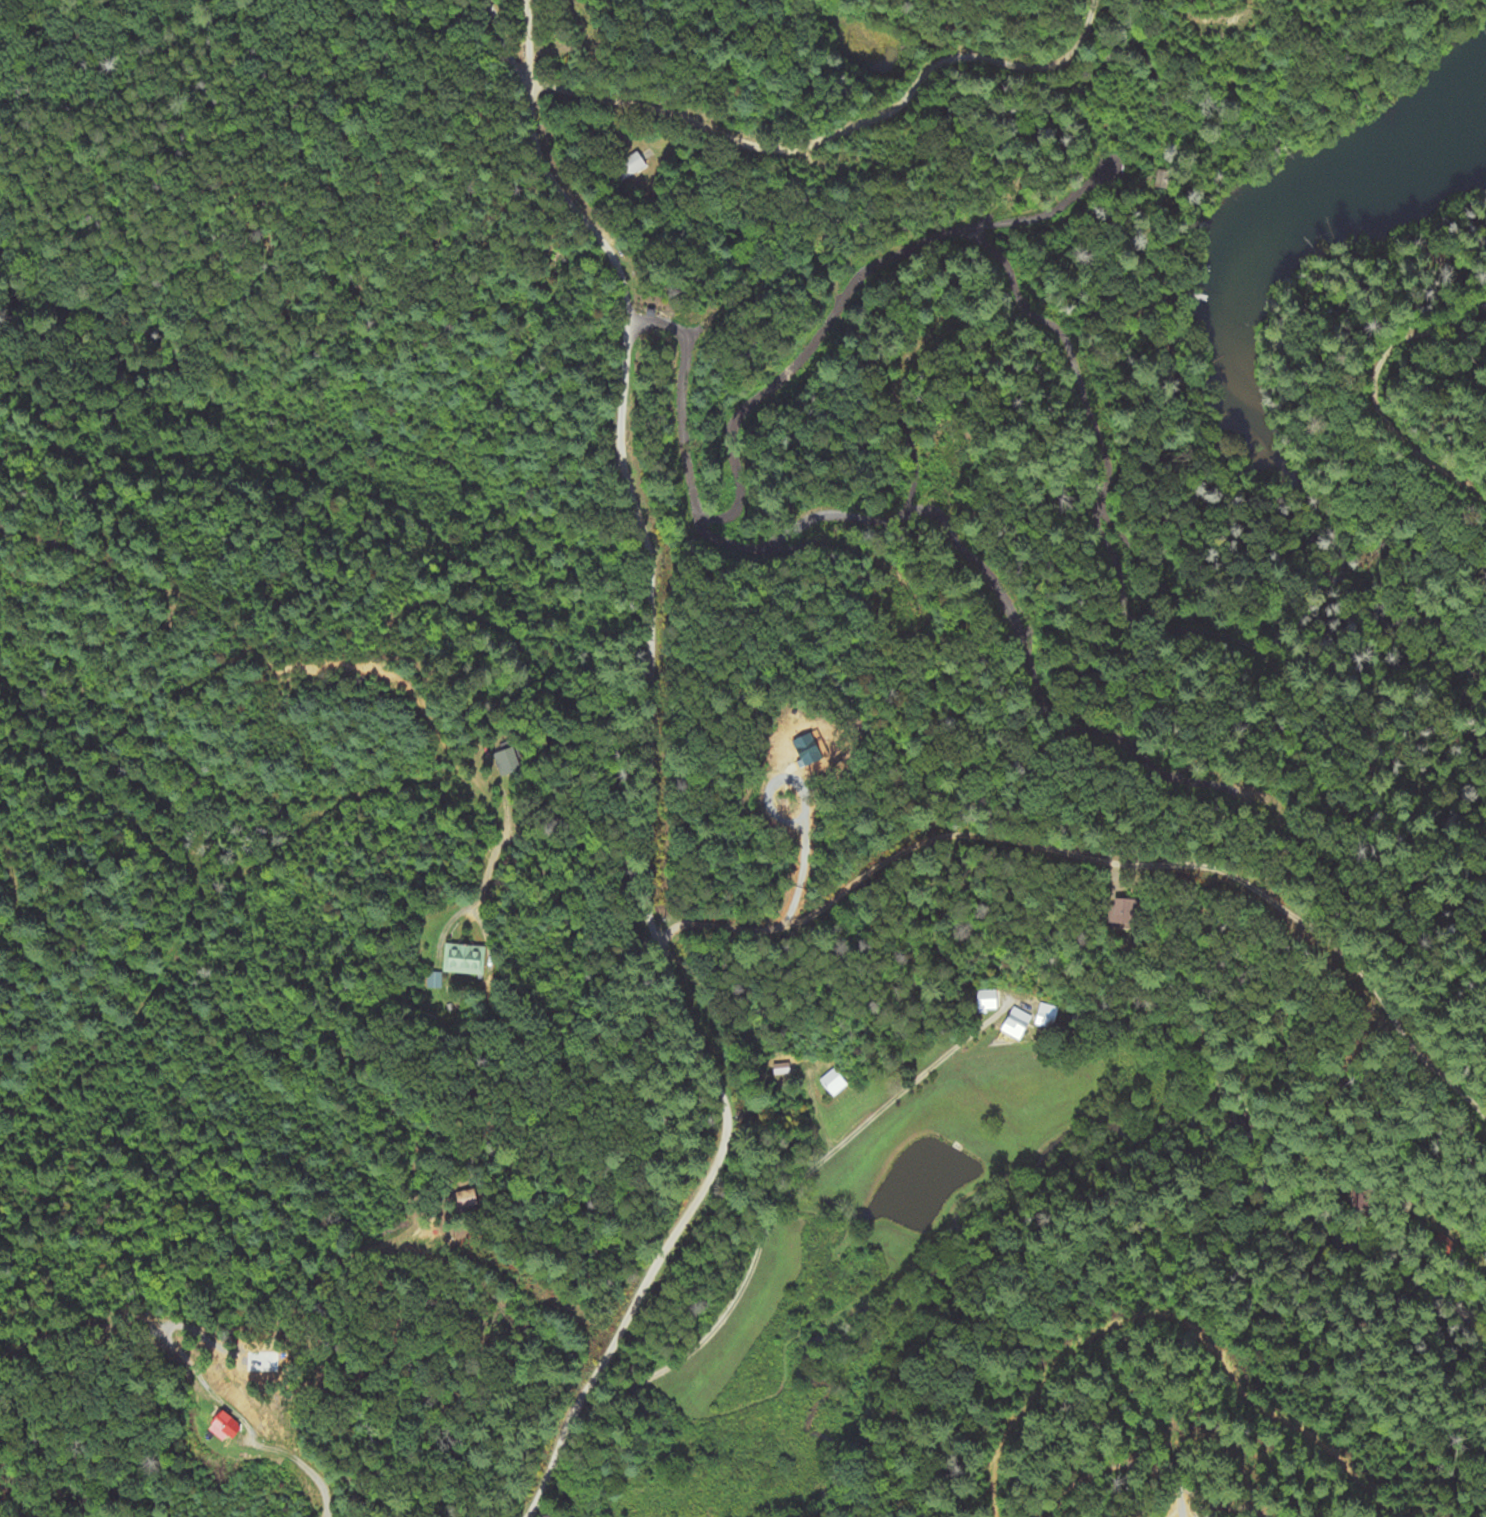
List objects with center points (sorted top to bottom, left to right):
road: (527, 44)
road: (793, 148)
building: (633, 165)
road: (572, 207)
road: (846, 293)
road: (1105, 481)
road: (901, 516)
road: (650, 626)
building: (799, 749)
building: (506, 762)
road: (1105, 860)
building: (1122, 911)
building: (462, 959)
building: (434, 980)
building: (1015, 1023)
road: (1140, 1030)
road: (782, 1191)
road: (676, 1230)
building: (222, 1427)
road: (1147, 1467)

